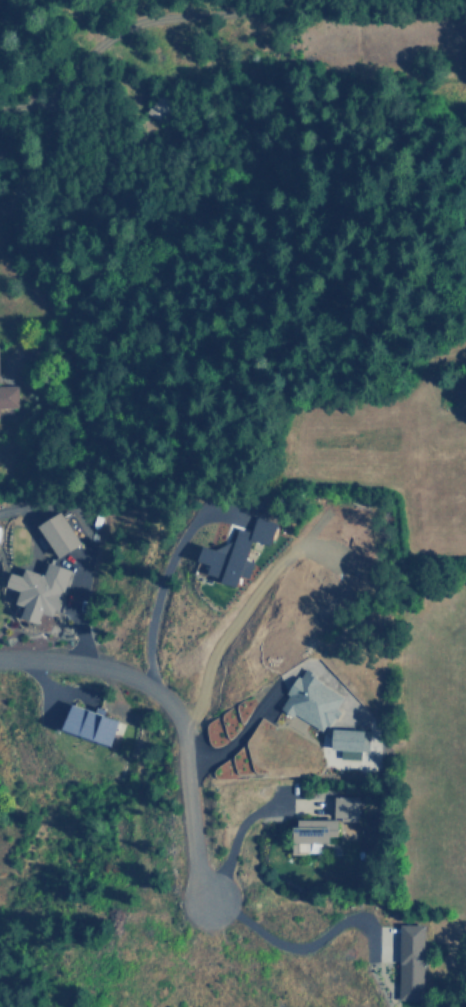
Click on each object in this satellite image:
road: (140, 23)
building: (8, 396)
building: (60, 535)
road: (87, 543)
building: (237, 552)
road: (166, 570)
building: (41, 591)
road: (269, 688)
building: (313, 701)
road: (173, 714)
building: (93, 725)
building: (352, 742)
building: (349, 807)
road: (243, 819)
building: (320, 834)
road: (304, 944)
building: (407, 961)

